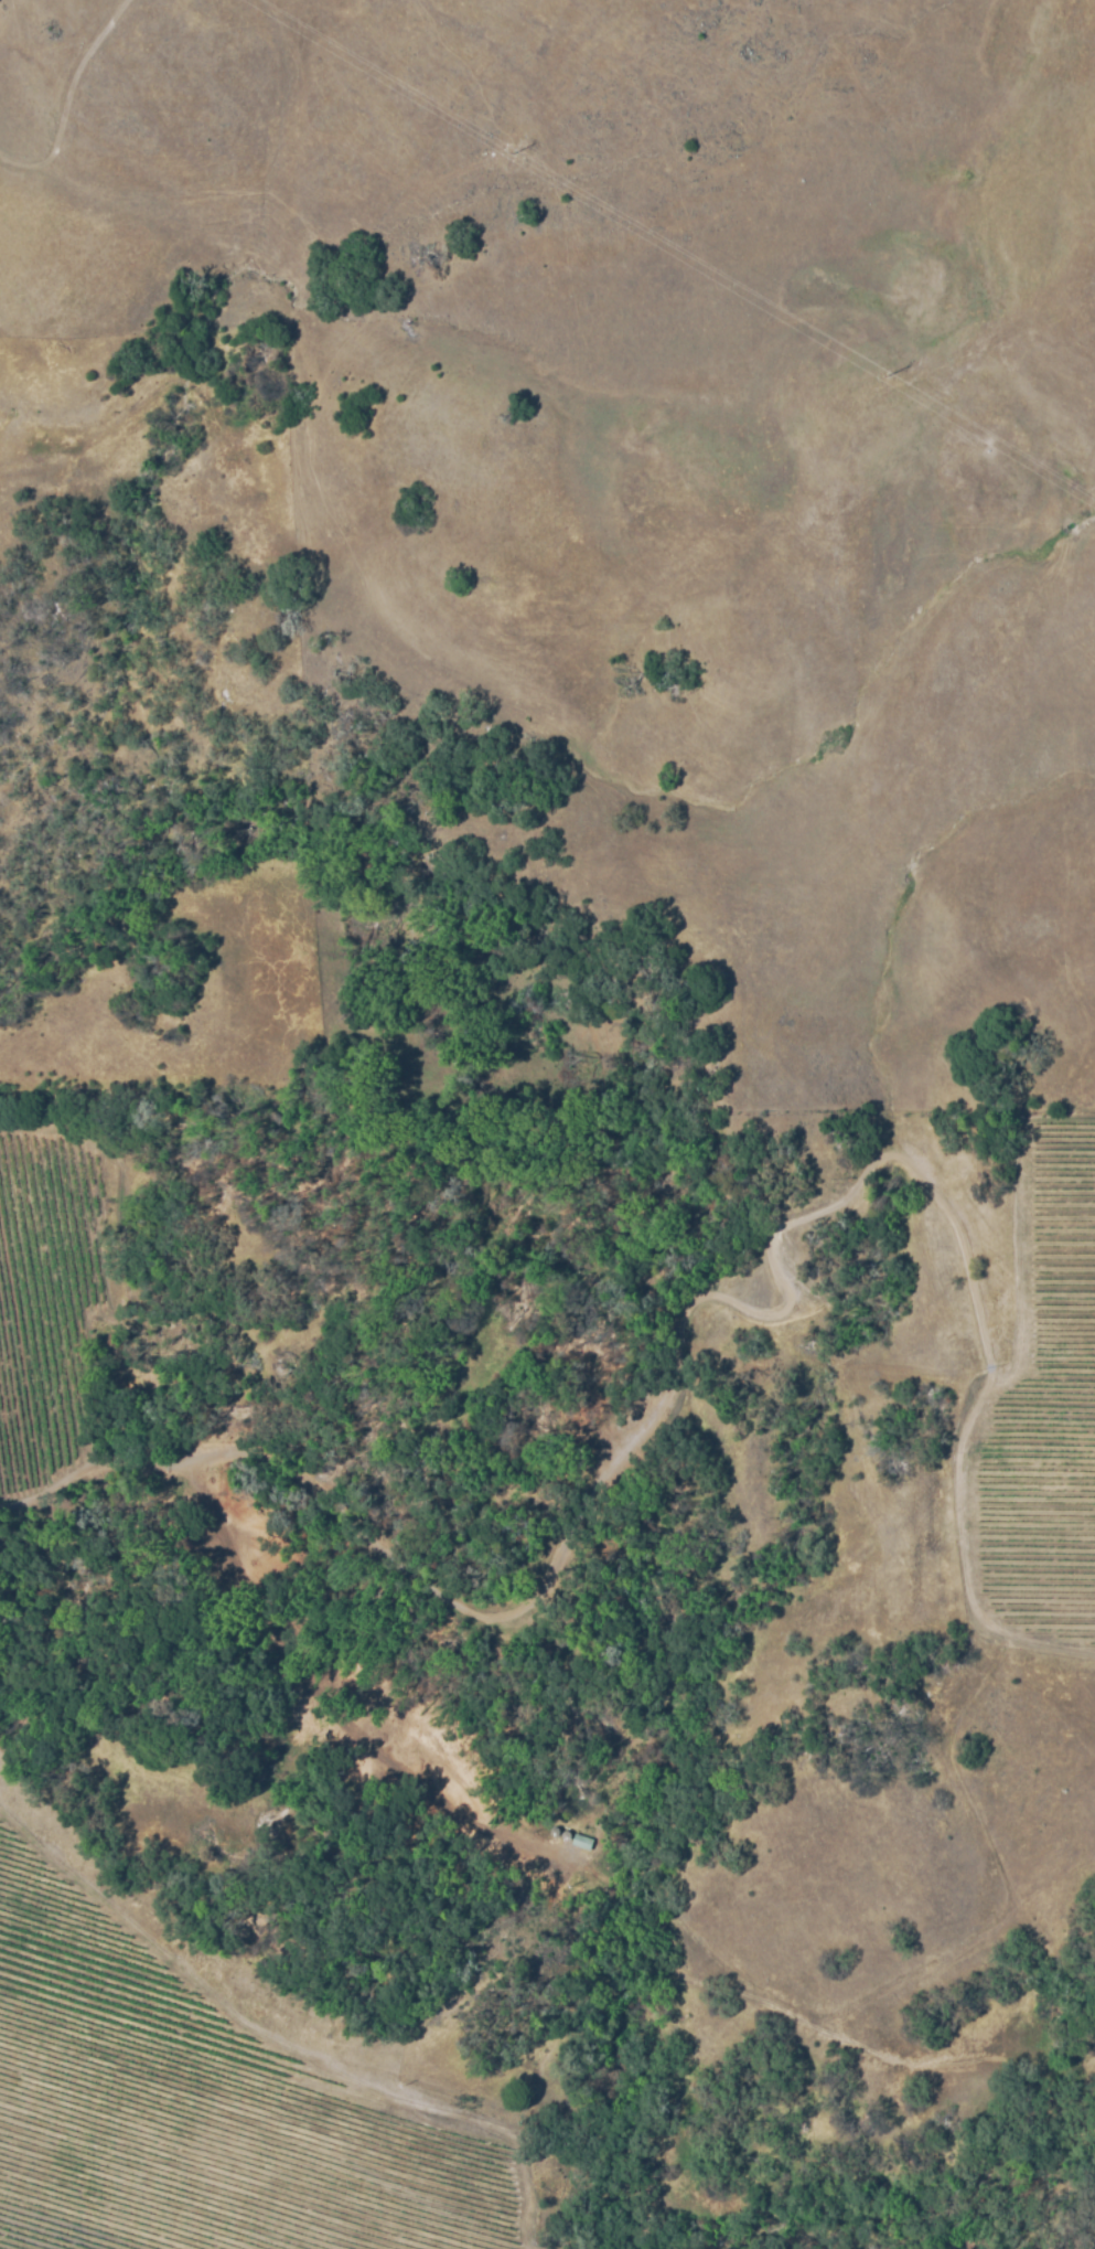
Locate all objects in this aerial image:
building: (577, 1841)

